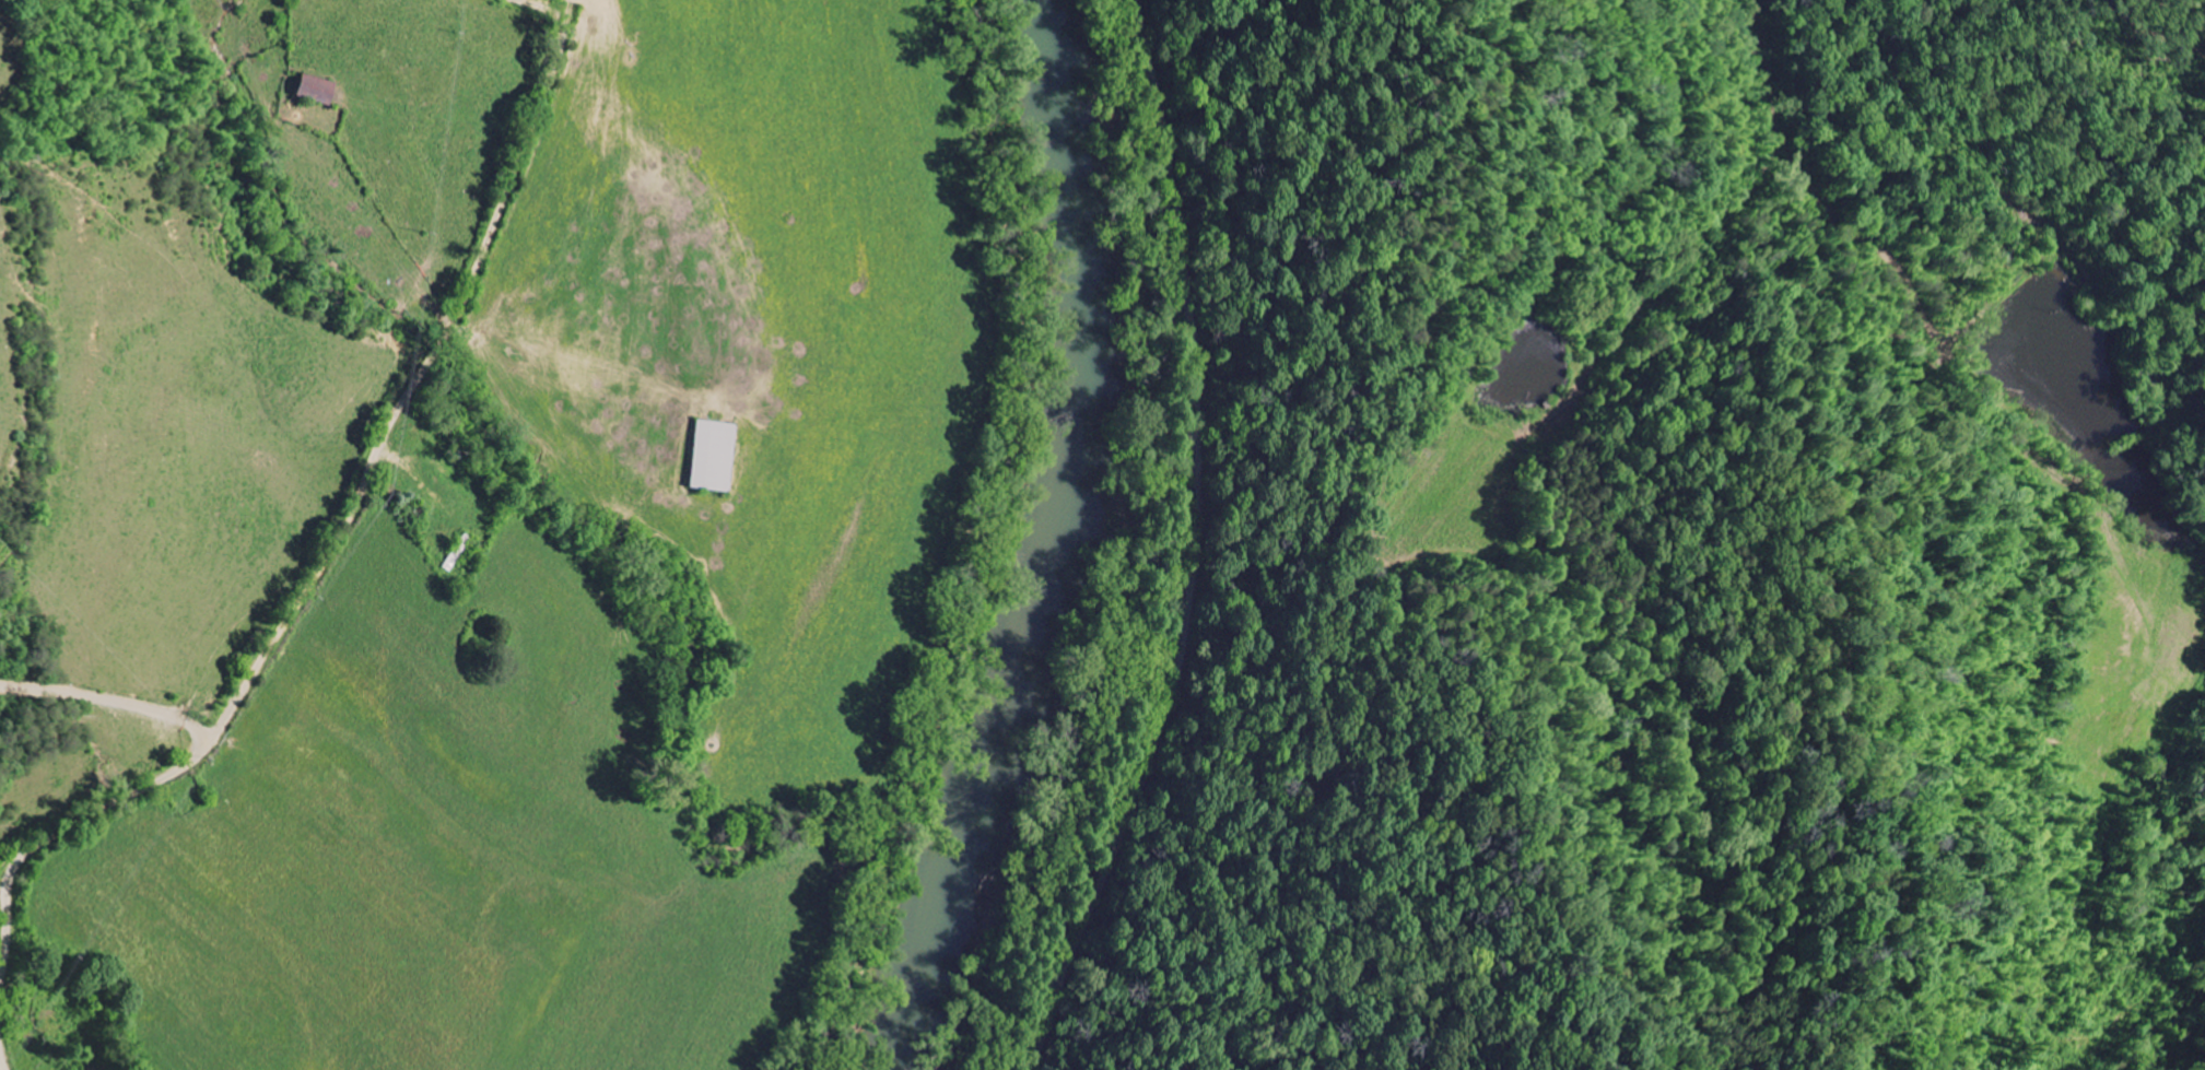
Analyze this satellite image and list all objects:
building: (312, 90)
building: (709, 456)
river: (1051, 543)
road: (335, 545)
road: (1206, 545)
road: (2, 1051)

